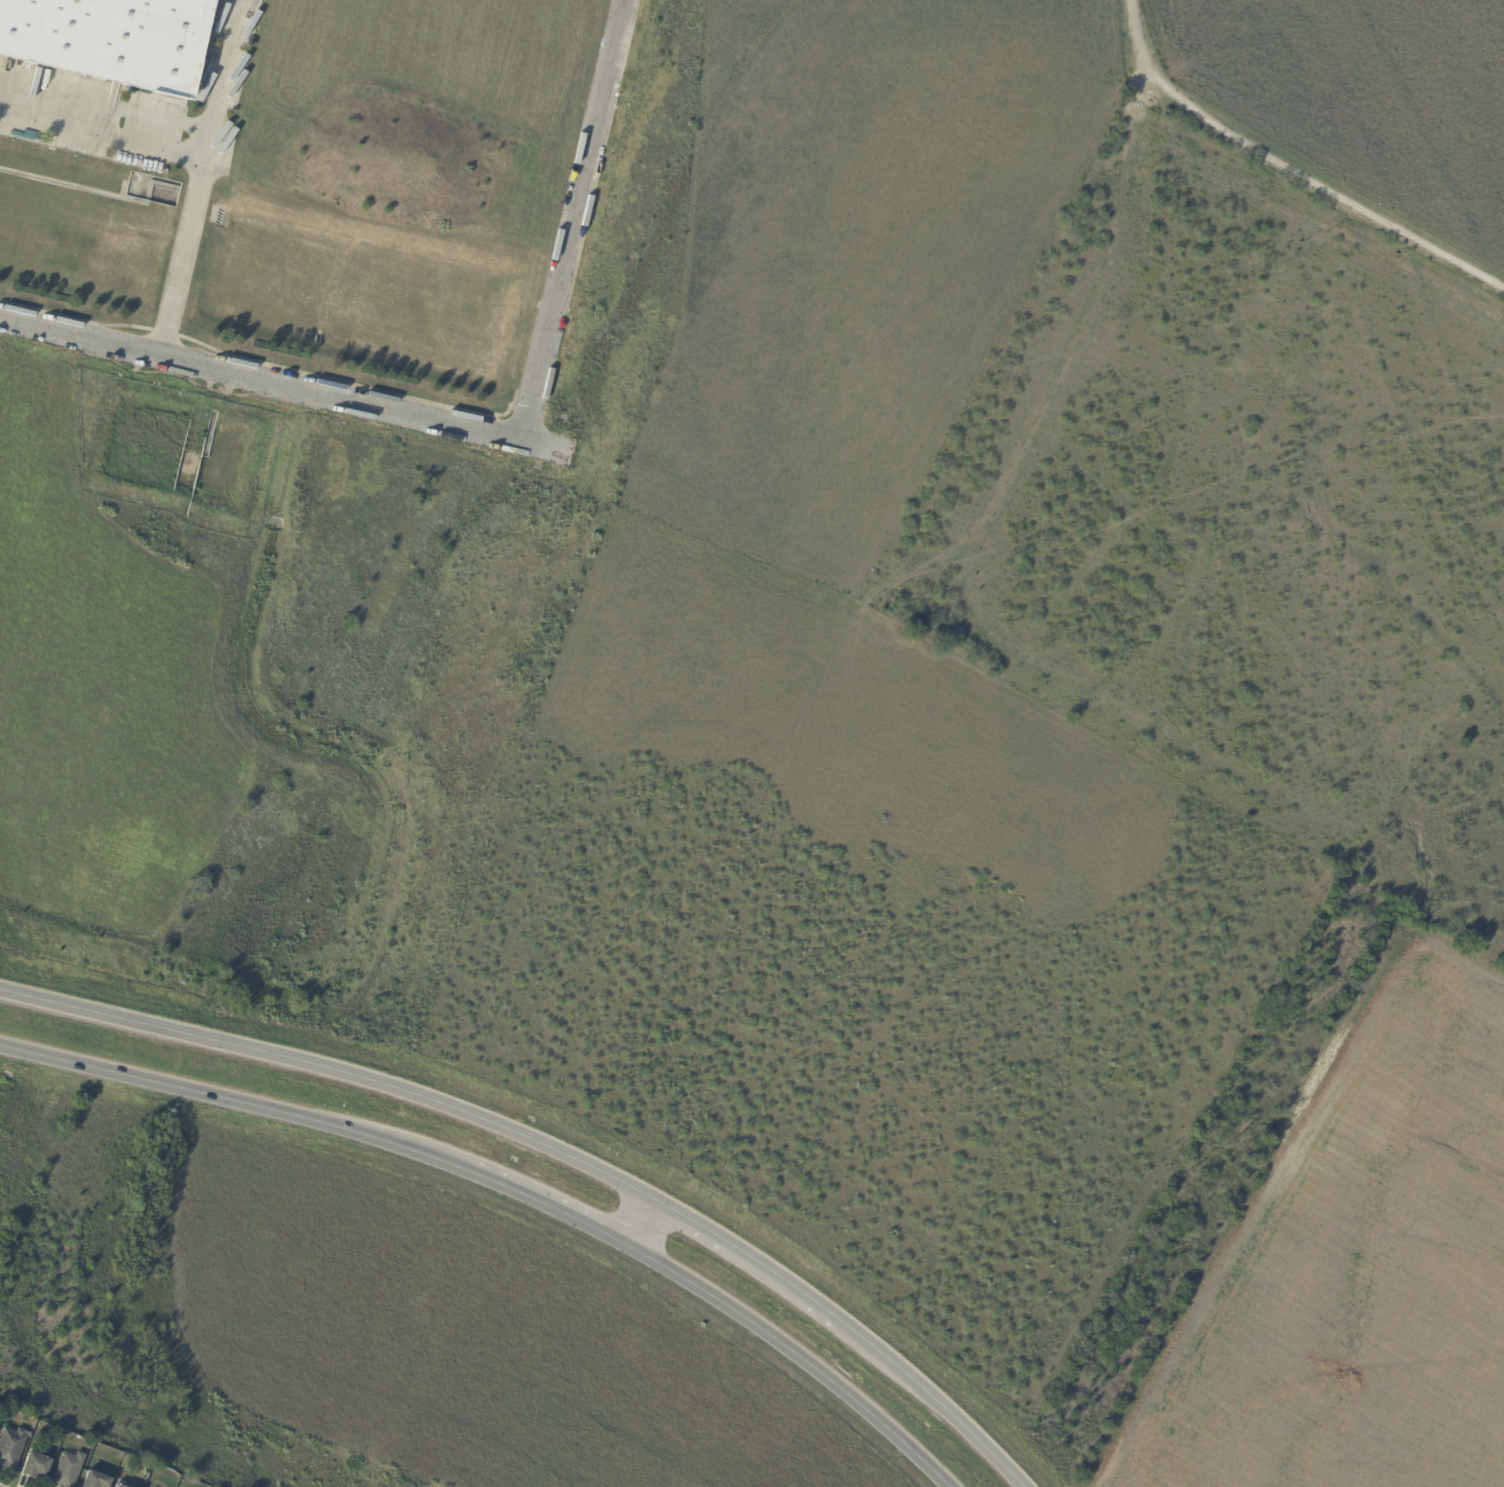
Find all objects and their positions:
building: (108, 35)
road: (101, 133)
road: (197, 175)
road: (570, 217)
road: (277, 379)
road: (335, 1070)
road: (238, 1101)
road: (551, 1207)
road: (642, 1222)
road: (747, 1254)
road: (796, 1356)
road: (931, 1398)
building: (0, 1423)
building: (12, 1447)
building: (36, 1466)
building: (70, 1470)
building: (147, 1473)
building: (97, 1480)
building: (118, 1486)
building: (200, 1486)

